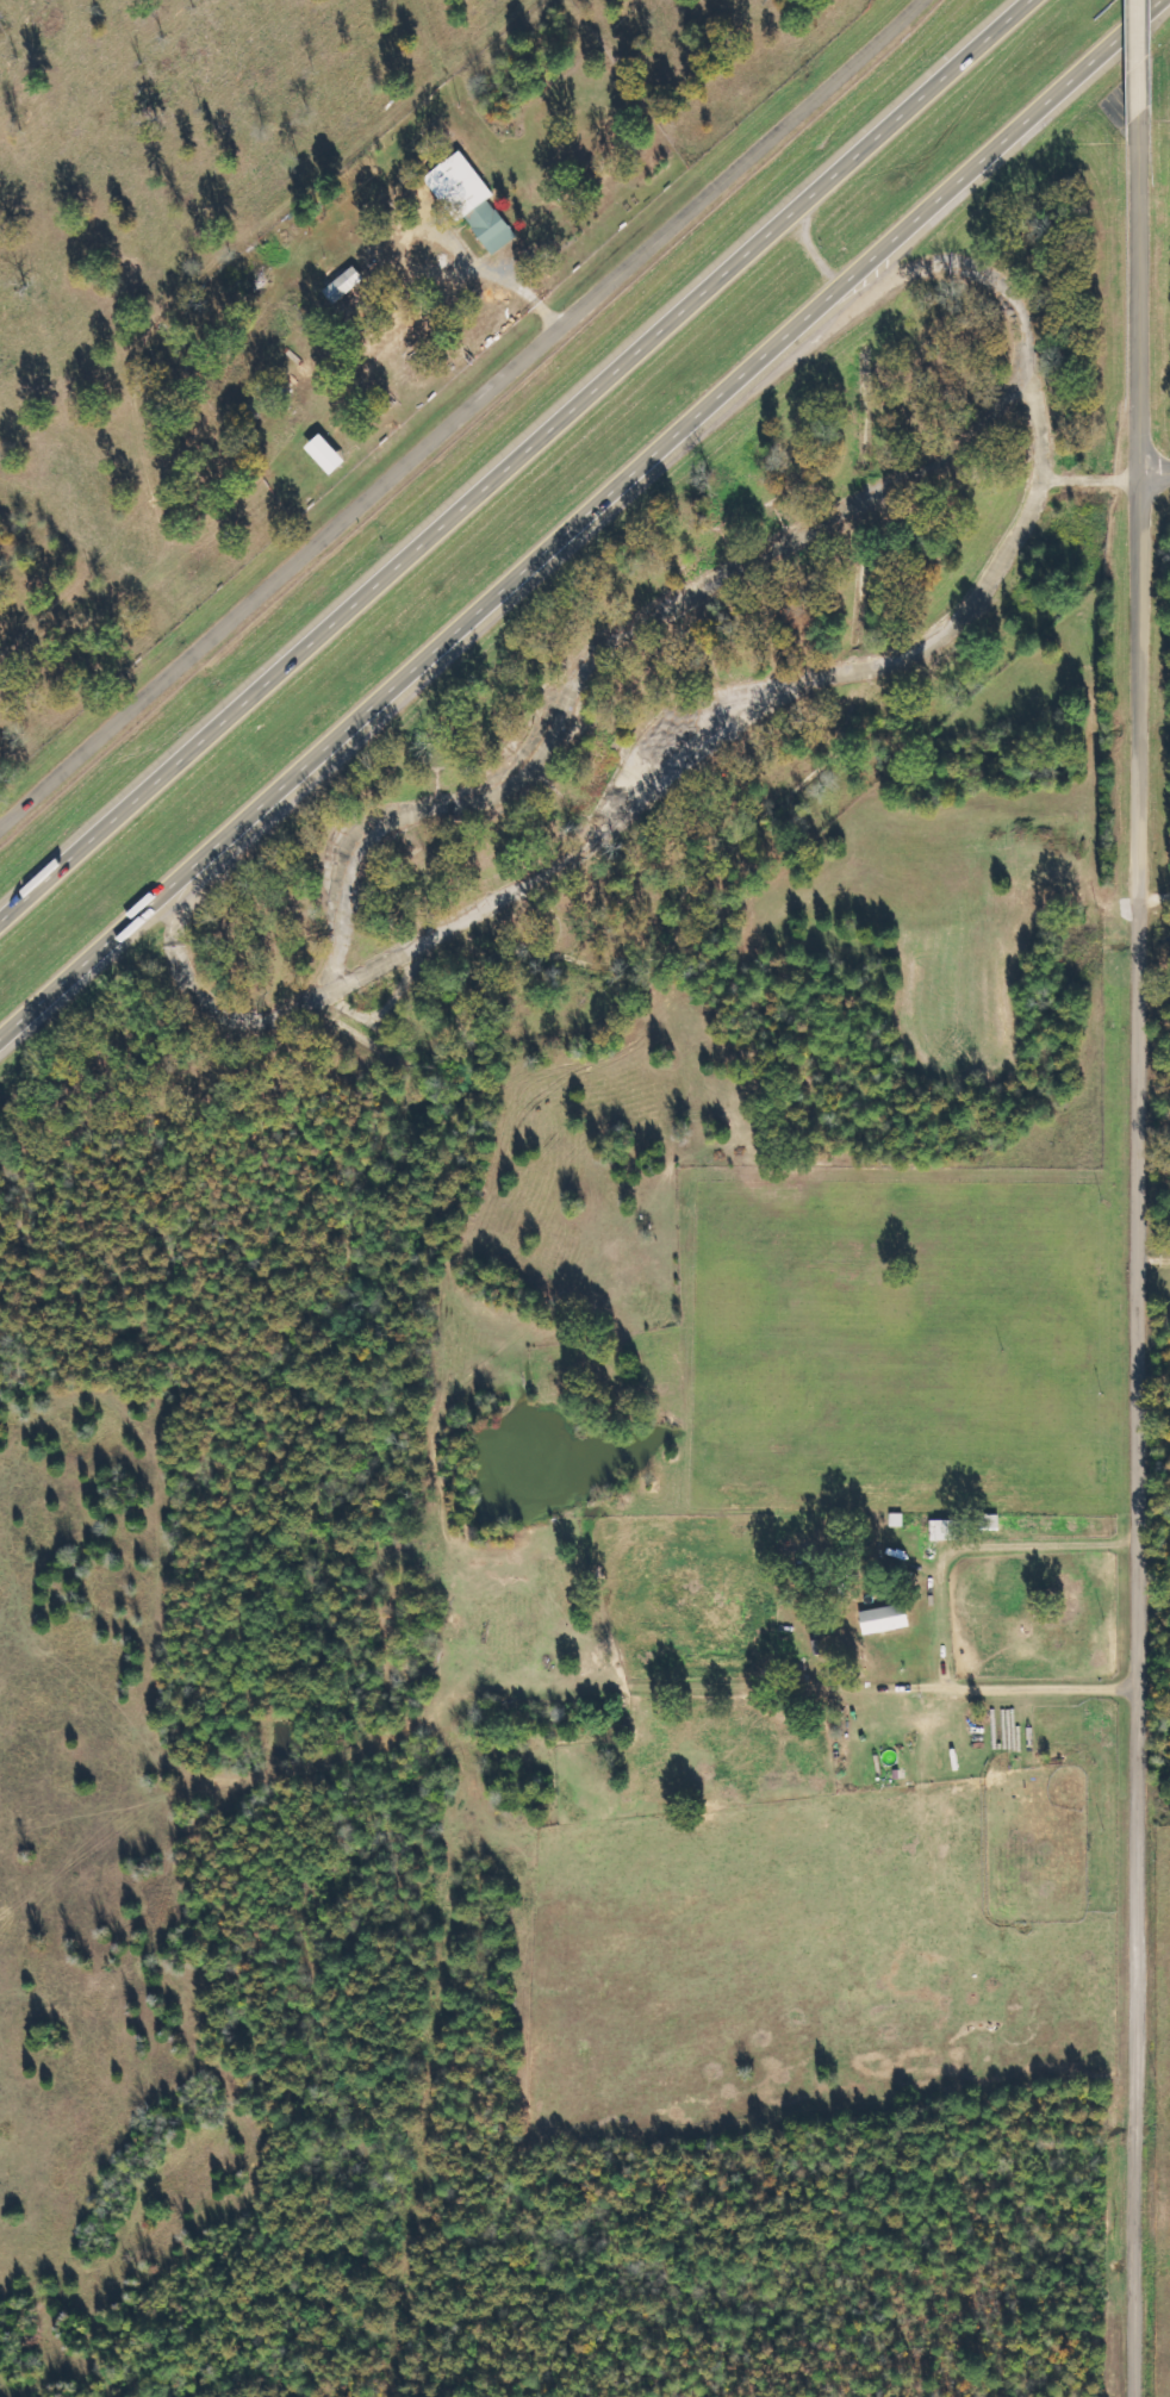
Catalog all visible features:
road: (1140, 46)
building: (473, 200)
road: (820, 261)
road: (945, 278)
road: (1141, 291)
road: (463, 415)
building: (331, 454)
road: (519, 466)
road: (1156, 484)
road: (586, 529)
road: (629, 641)
road: (776, 717)
road: (204, 986)
road: (1145, 1442)
building: (950, 1529)
building: (889, 1618)
road: (832, 1682)
road: (382, 2343)

